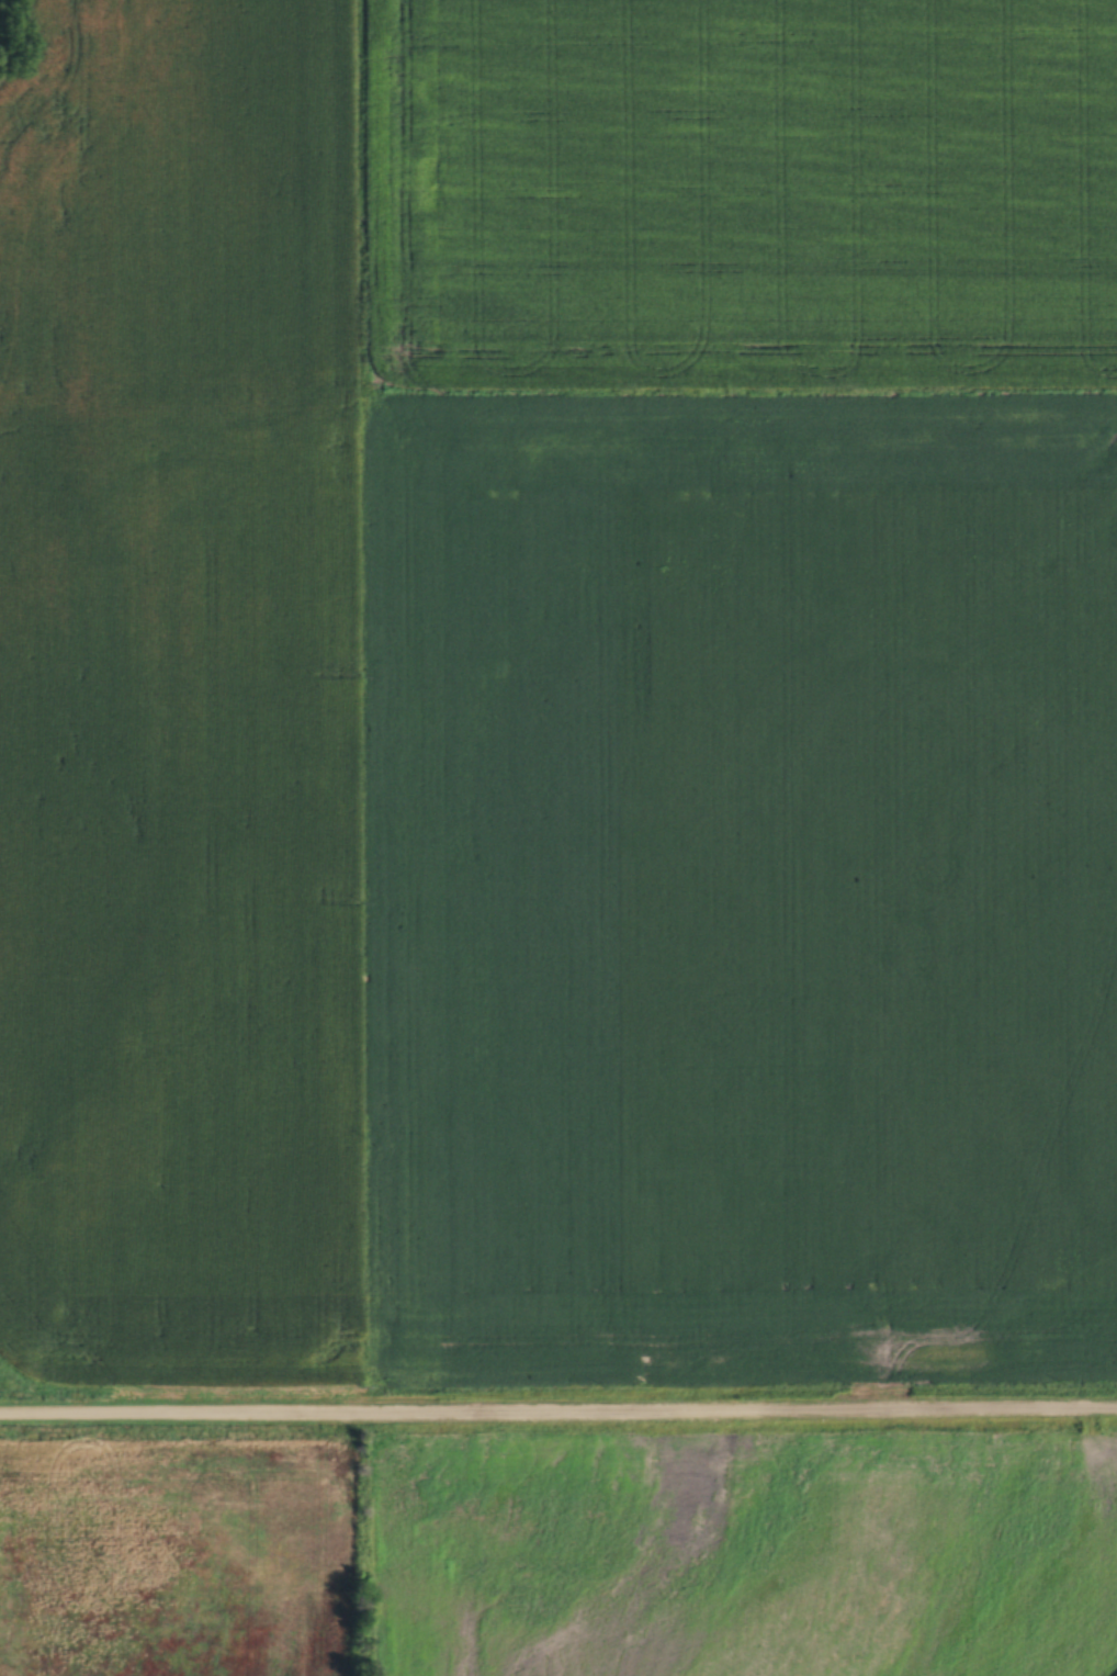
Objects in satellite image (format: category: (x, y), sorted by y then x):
road: (557, 1414)

